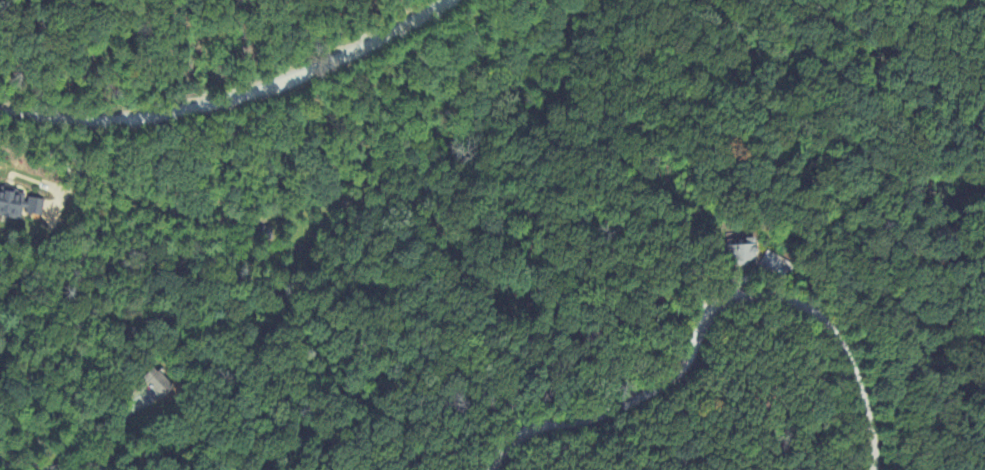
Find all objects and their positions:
road: (236, 97)
building: (19, 206)
building: (741, 257)
road: (711, 316)

